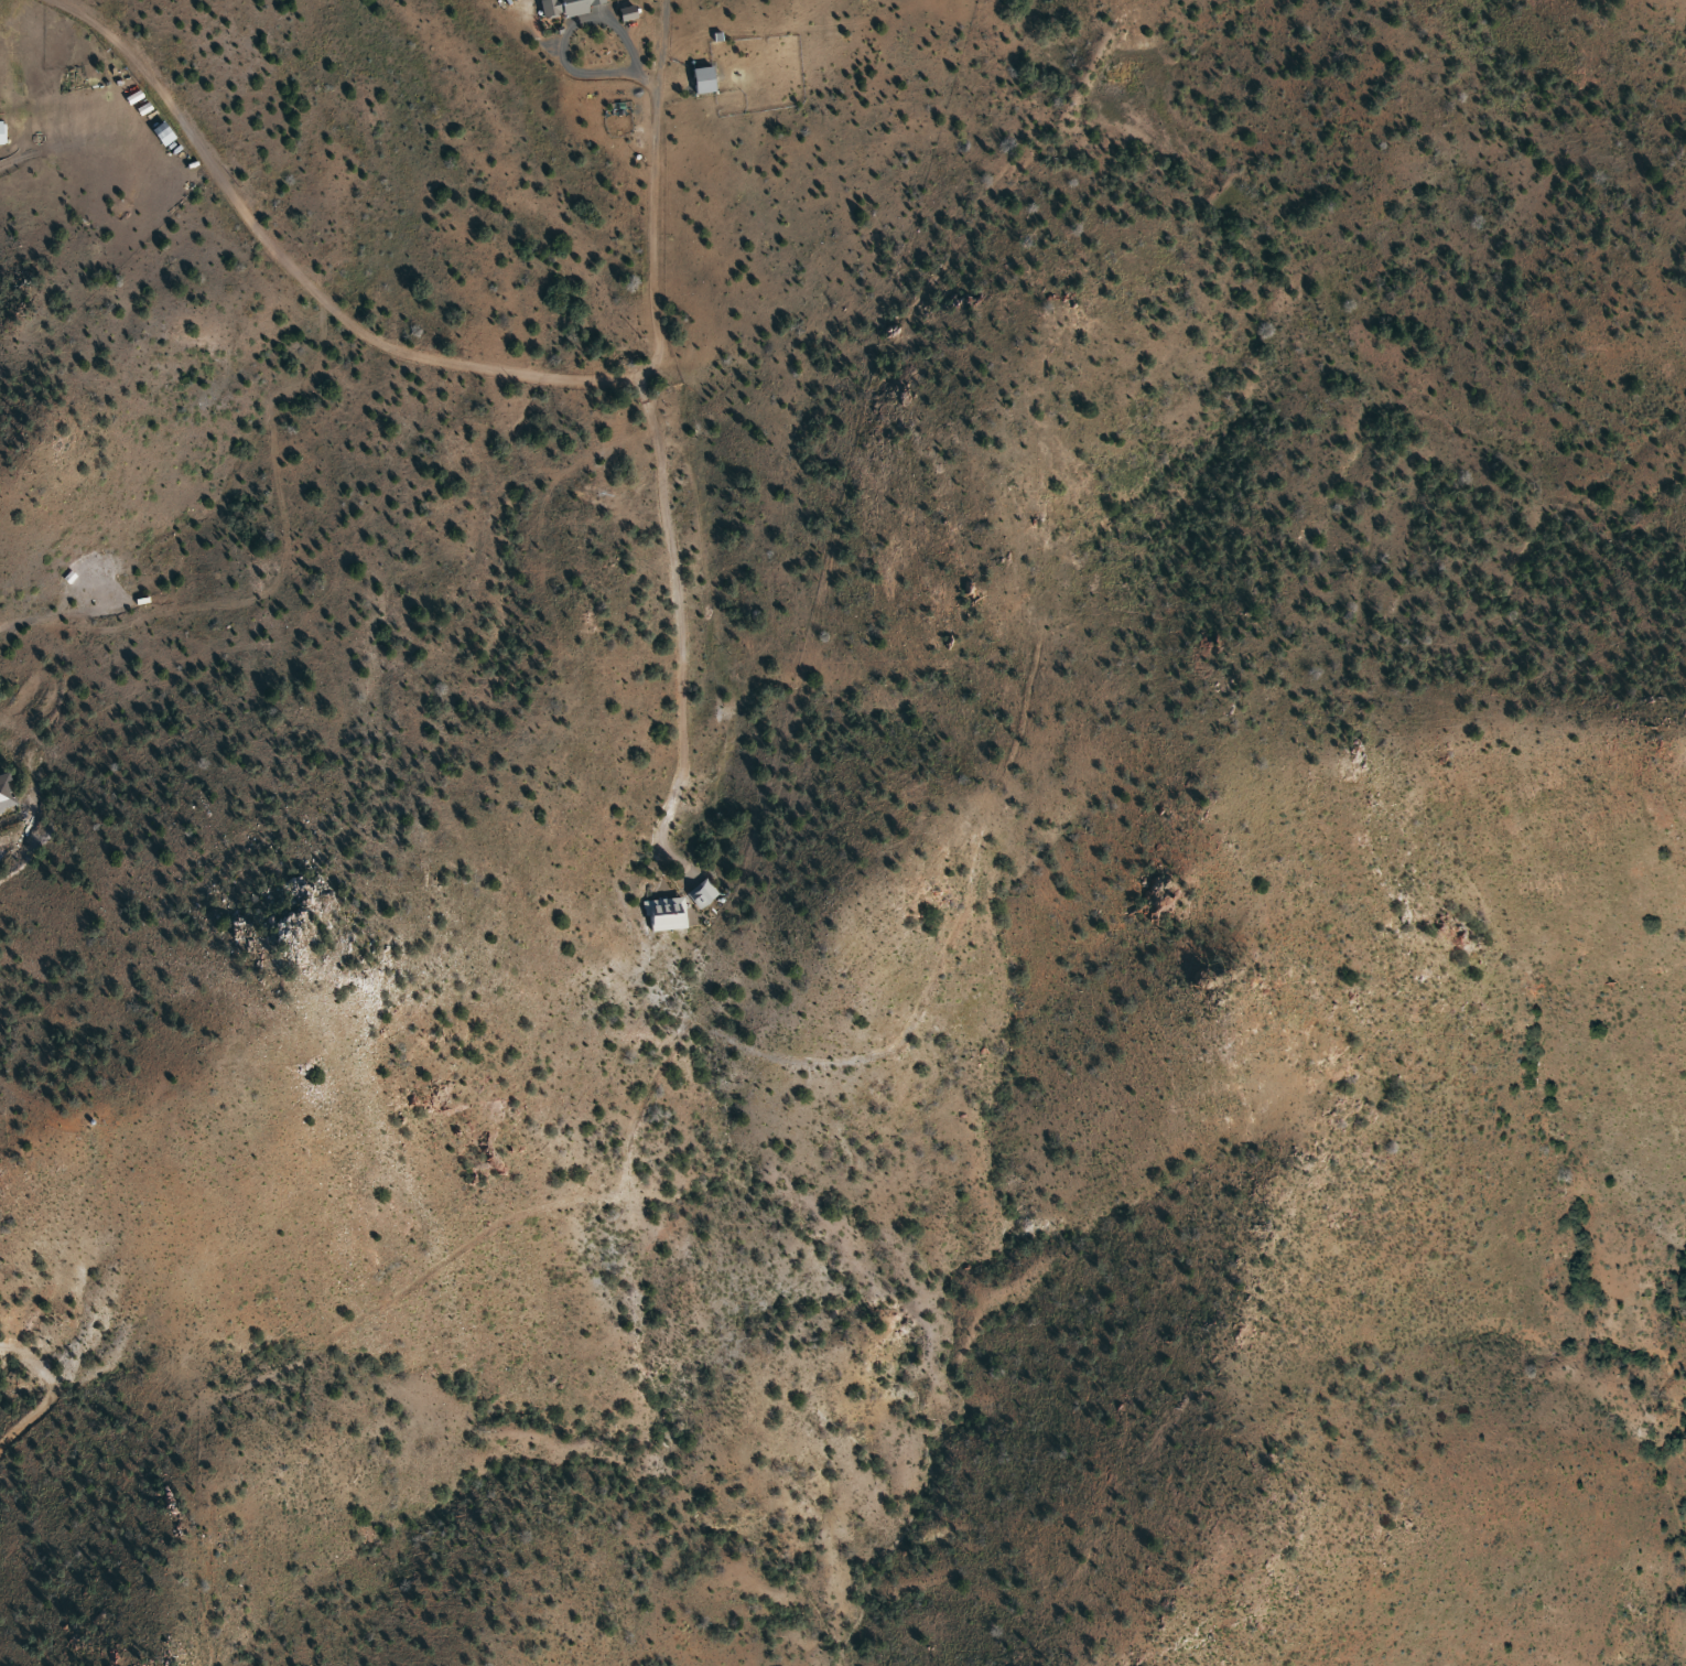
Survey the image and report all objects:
building: (575, 6)
building: (161, 133)
road: (302, 271)
building: (701, 894)
building: (662, 914)

